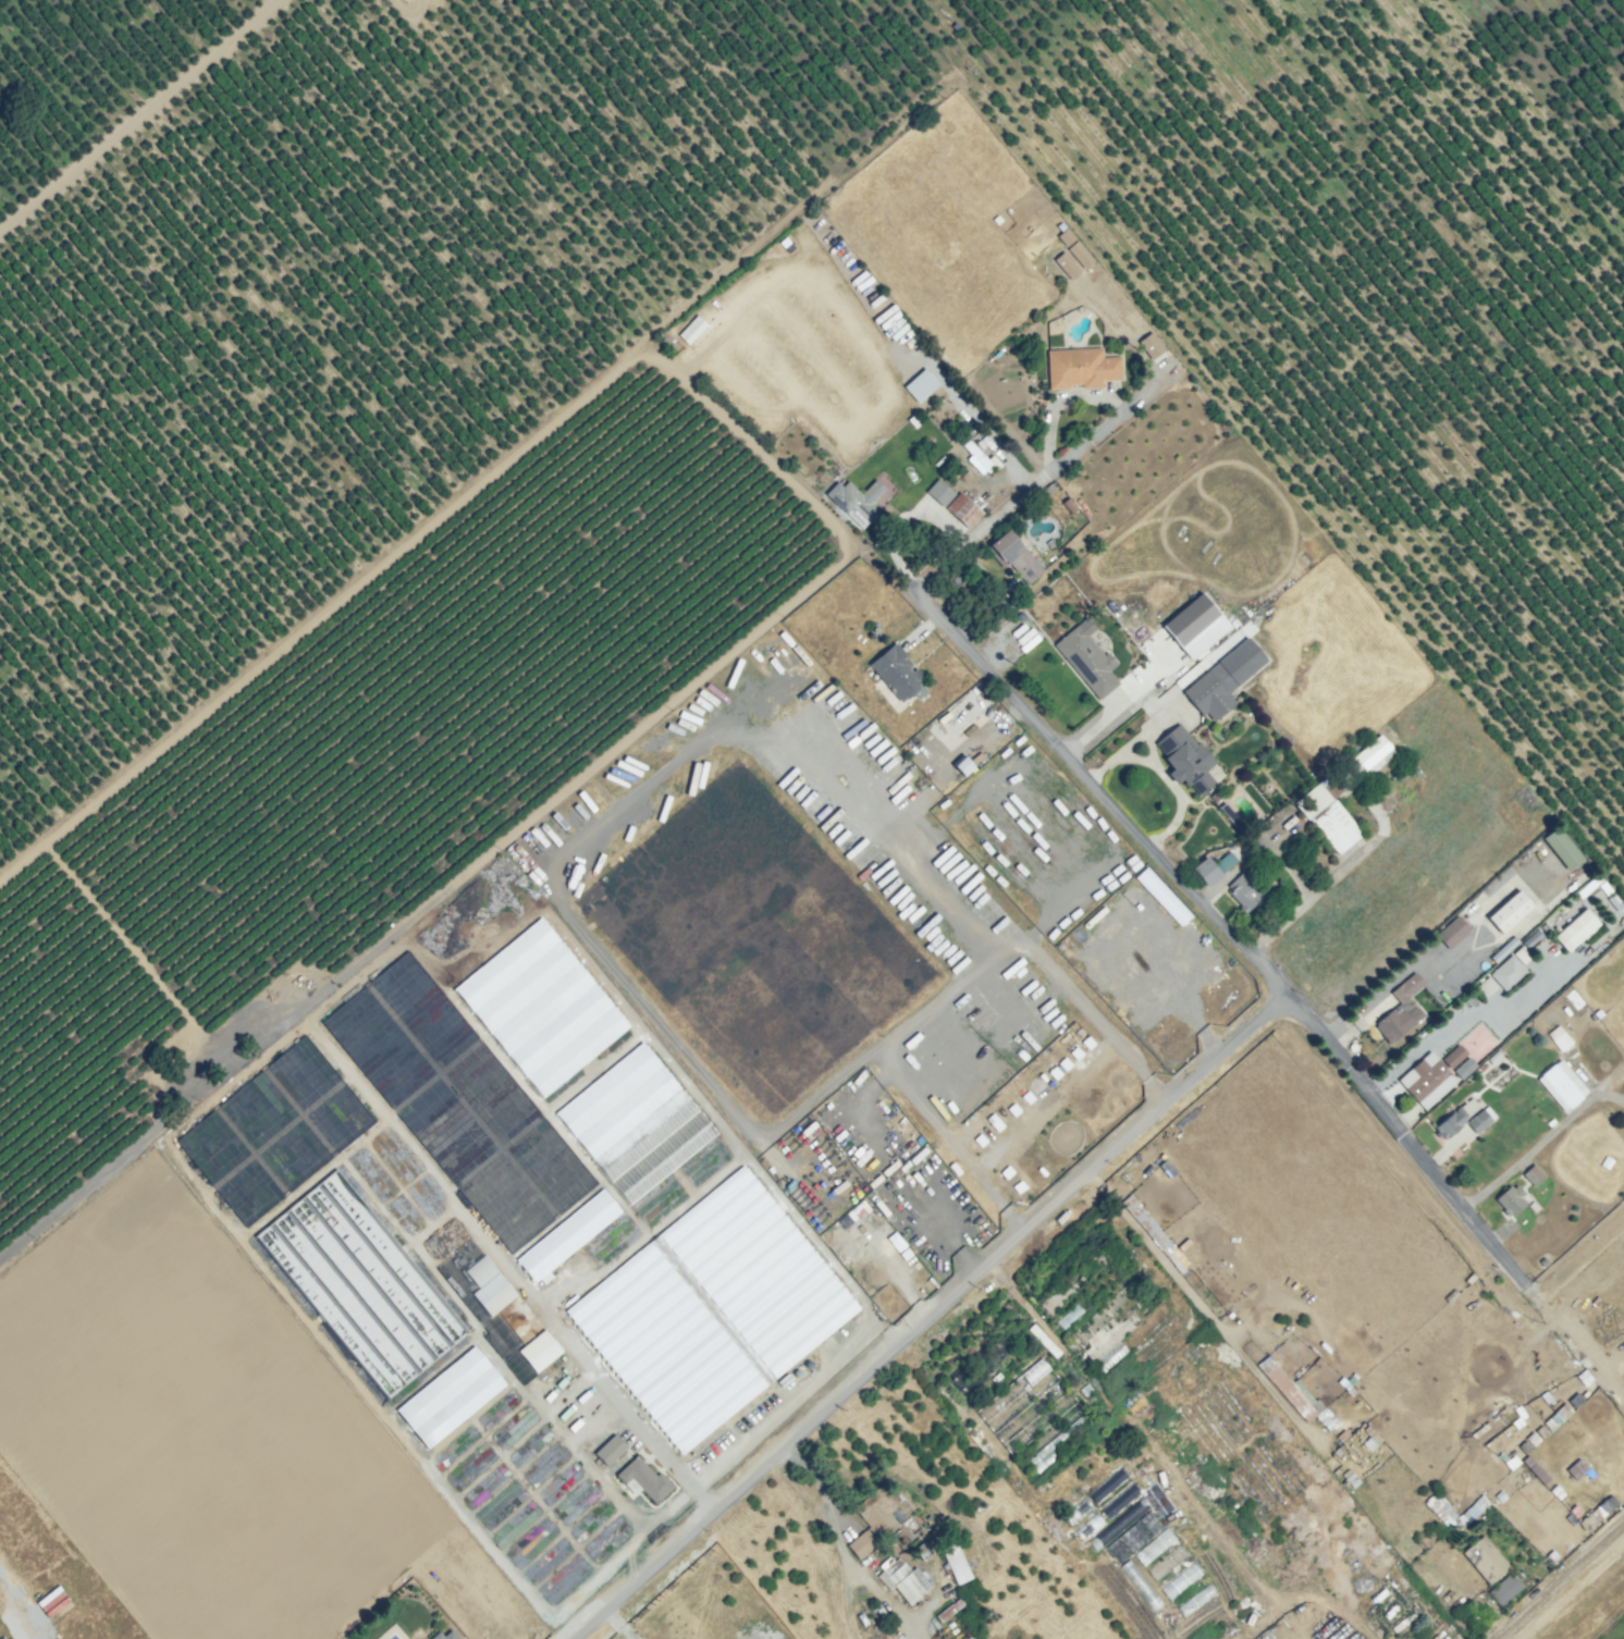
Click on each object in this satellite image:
road: (135, 116)
building: (1066, 237)
building: (823, 243)
building: (1081, 255)
building: (835, 256)
building: (1067, 266)
building: (1151, 345)
building: (1081, 368)
building: (921, 385)
building: (913, 421)
building: (980, 443)
building: (988, 454)
building: (976, 458)
building: (965, 476)
road: (1034, 484)
building: (1046, 490)
building: (939, 492)
building: (856, 501)
building: (1069, 505)
building: (963, 510)
building: (1049, 542)
building: (1016, 556)
building: (1196, 626)
building: (1087, 658)
building: (896, 671)
building: (1223, 679)
building: (890, 729)
building: (1370, 757)
building: (1183, 761)
building: (961, 764)
building: (884, 765)
road: (1162, 772)
building: (853, 774)
road: (1097, 788)
building: (1216, 796)
building: (869, 804)
building: (1328, 814)
building: (1229, 815)
road: (1257, 846)
building: (1562, 848)
building: (1223, 862)
building: (1206, 871)
road: (1325, 884)
building: (1588, 885)
building: (1604, 888)
building: (1248, 891)
building: (1615, 902)
building: (1509, 911)
building: (1623, 920)
building: (1543, 926)
building: (1577, 929)
building: (1452, 932)
building: (1530, 938)
building: (1513, 940)
building: (1522, 954)
building: (1508, 972)
building: (1488, 985)
road: (947, 998)
building: (540, 1007)
building: (1400, 1009)
building: (1598, 1013)
building: (1559, 1036)
building: (1352, 1047)
building: (1493, 1056)
building: (1453, 1057)
building: (1503, 1065)
building: (1462, 1067)
building: (1479, 1068)
building: (1426, 1080)
building: (1561, 1084)
building: (459, 1101)
building: (1480, 1119)
building: (635, 1122)
building: (1550, 1122)
building: (1450, 1123)
building: (274, 1130)
road: (1401, 1135)
road: (1545, 1137)
crop: (573, 1173)
building: (1533, 1174)
building: (403, 1179)
building: (1511, 1199)
building: (1533, 1206)
building: (1151, 1234)
building: (567, 1236)
building: (1542, 1261)
building: (480, 1270)
building: (1075, 1270)
building: (1469, 1278)
building: (361, 1283)
building: (493, 1294)
building: (1450, 1295)
building: (711, 1309)
road: (926, 1316)
building: (1119, 1321)
road: (1575, 1333)
building: (1041, 1338)
building: (539, 1351)
building: (808, 1364)
building: (797, 1372)
building: (784, 1380)
building: (1290, 1390)
building: (447, 1398)
building: (1028, 1412)
building: (1559, 1413)
building: (1488, 1429)
building: (1537, 1432)
building: (1370, 1439)
building: (610, 1450)
building: (1103, 1452)
building: (1512, 1459)
building: (1043, 1461)
building: (1529, 1463)
building: (1571, 1475)
building: (643, 1479)
building: (1107, 1484)
building: (1367, 1499)
road: (824, 1500)
building: (1119, 1501)
building: (1481, 1504)
building: (1441, 1509)
building: (875, 1512)
building: (1595, 1514)
building: (1125, 1518)
building: (1413, 1541)
building: (861, 1544)
building: (1154, 1546)
building: (920, 1548)
building: (1485, 1560)
building: (955, 1562)
building: (1166, 1565)
road: (1558, 1578)
building: (903, 1580)
building: (1179, 1581)
building: (1504, 1589)
road: (1573, 1593)
road: (884, 1599)
road: (16, 1602)
road: (845, 1602)
building: (992, 1617)
road: (615, 1624)
building: (957, 1631)
building: (445, 1636)
building: (993, 1637)

